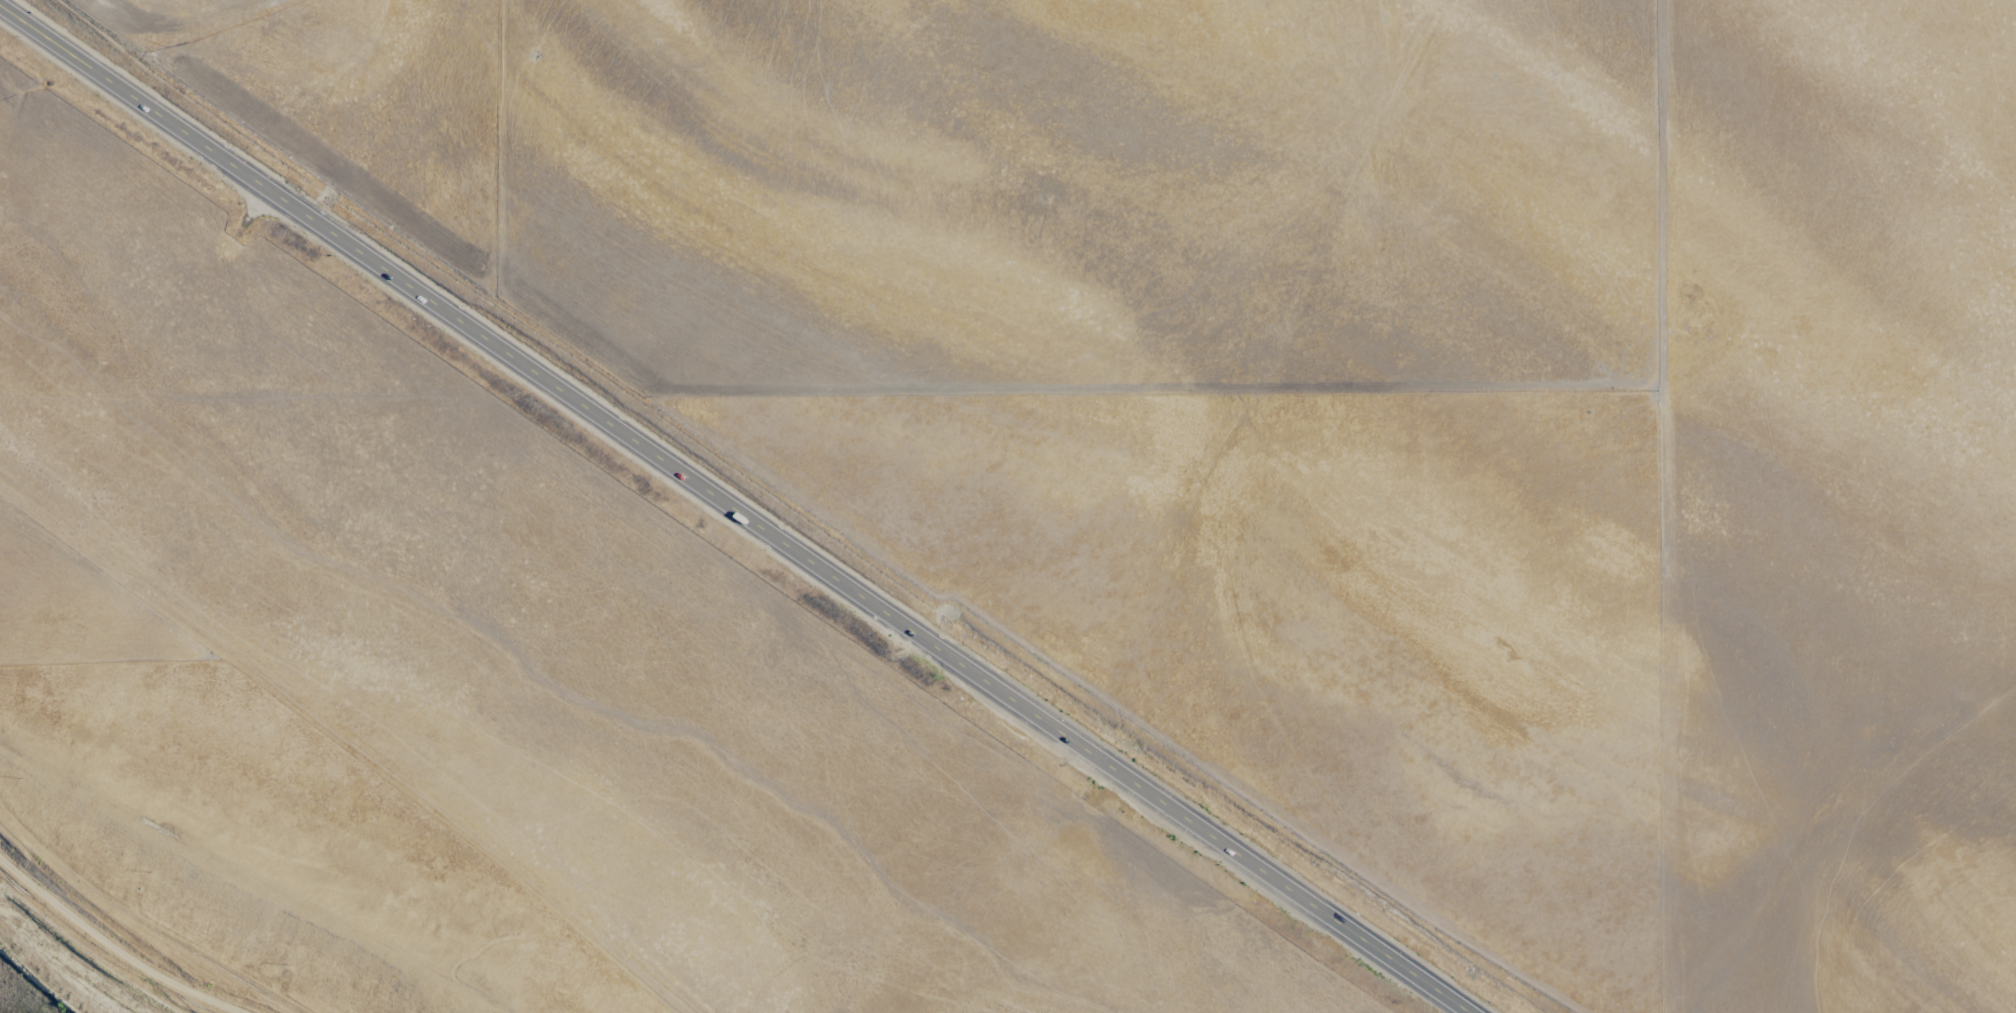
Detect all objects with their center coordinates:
crop: (1009, 505)
road: (731, 510)

